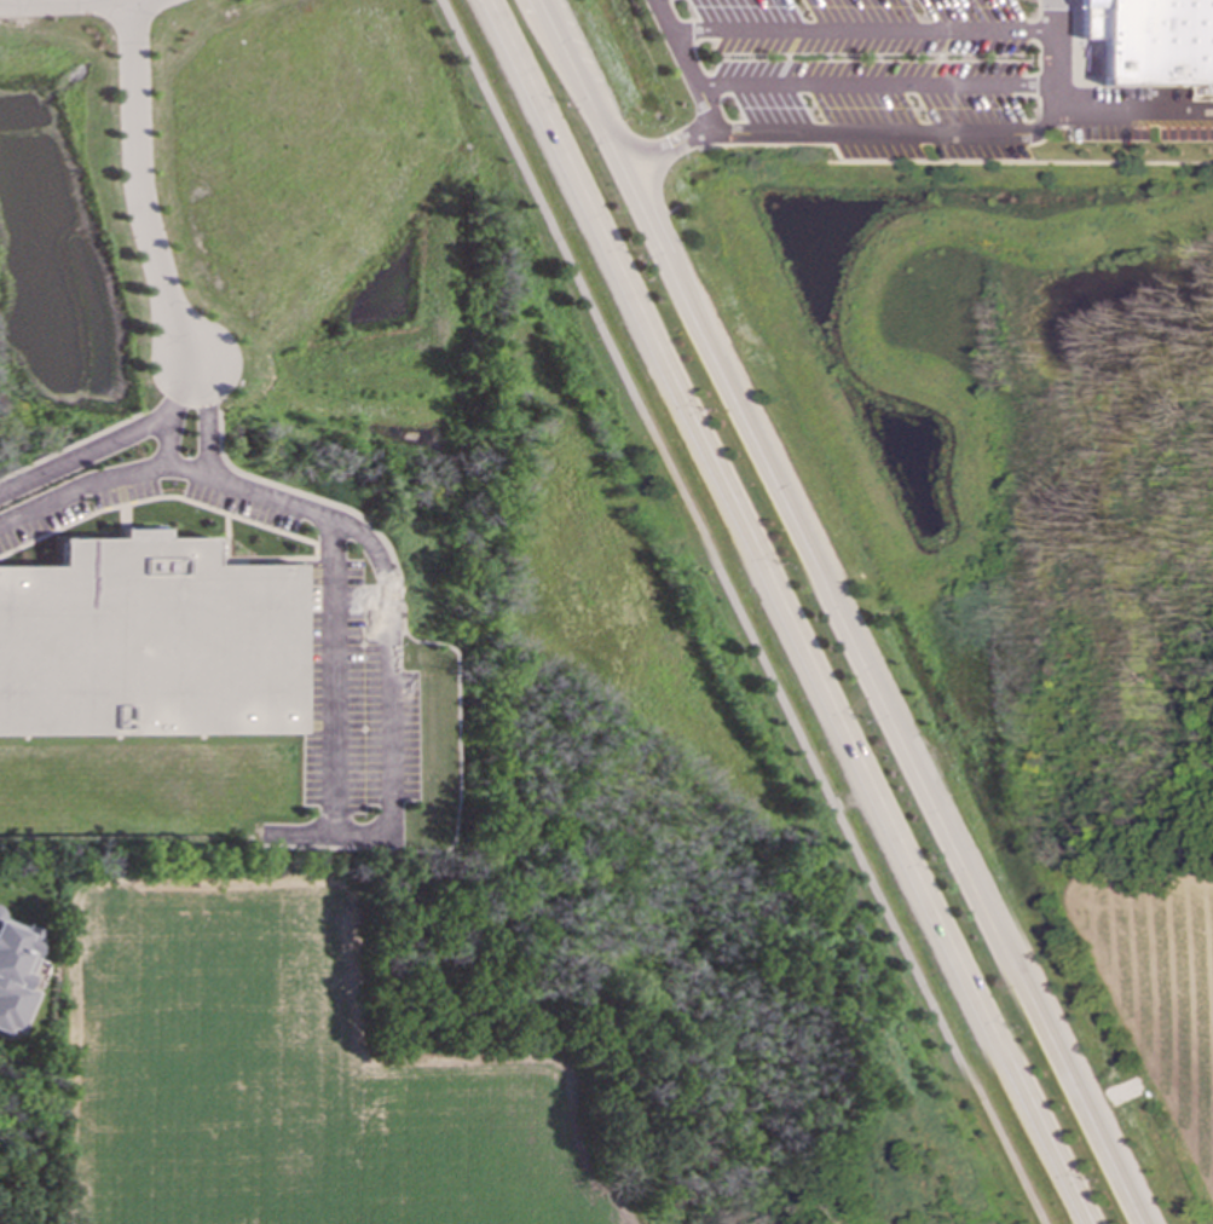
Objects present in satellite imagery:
road: (18, 1)
road: (64, 1)
road: (857, 31)
building: (1150, 41)
road: (682, 63)
parking lot: (911, 80)
road: (872, 85)
road: (1132, 110)
road: (890, 134)
road: (135, 191)
road: (181, 394)
road: (201, 394)
road: (83, 456)
road: (185, 470)
road: (103, 481)
road: (738, 611)
road: (836, 611)
road: (780, 612)
building: (145, 642)
road: (388, 766)
building: (0, 911)
building: (16, 972)
crop: (1159, 989)
crop: (278, 1081)

